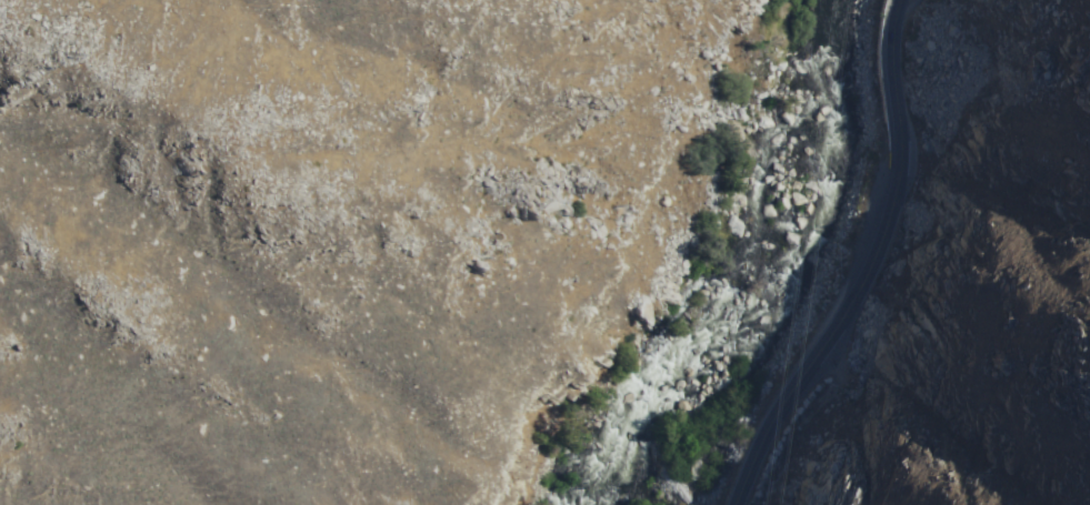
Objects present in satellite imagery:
road: (856, 265)
river: (763, 271)

